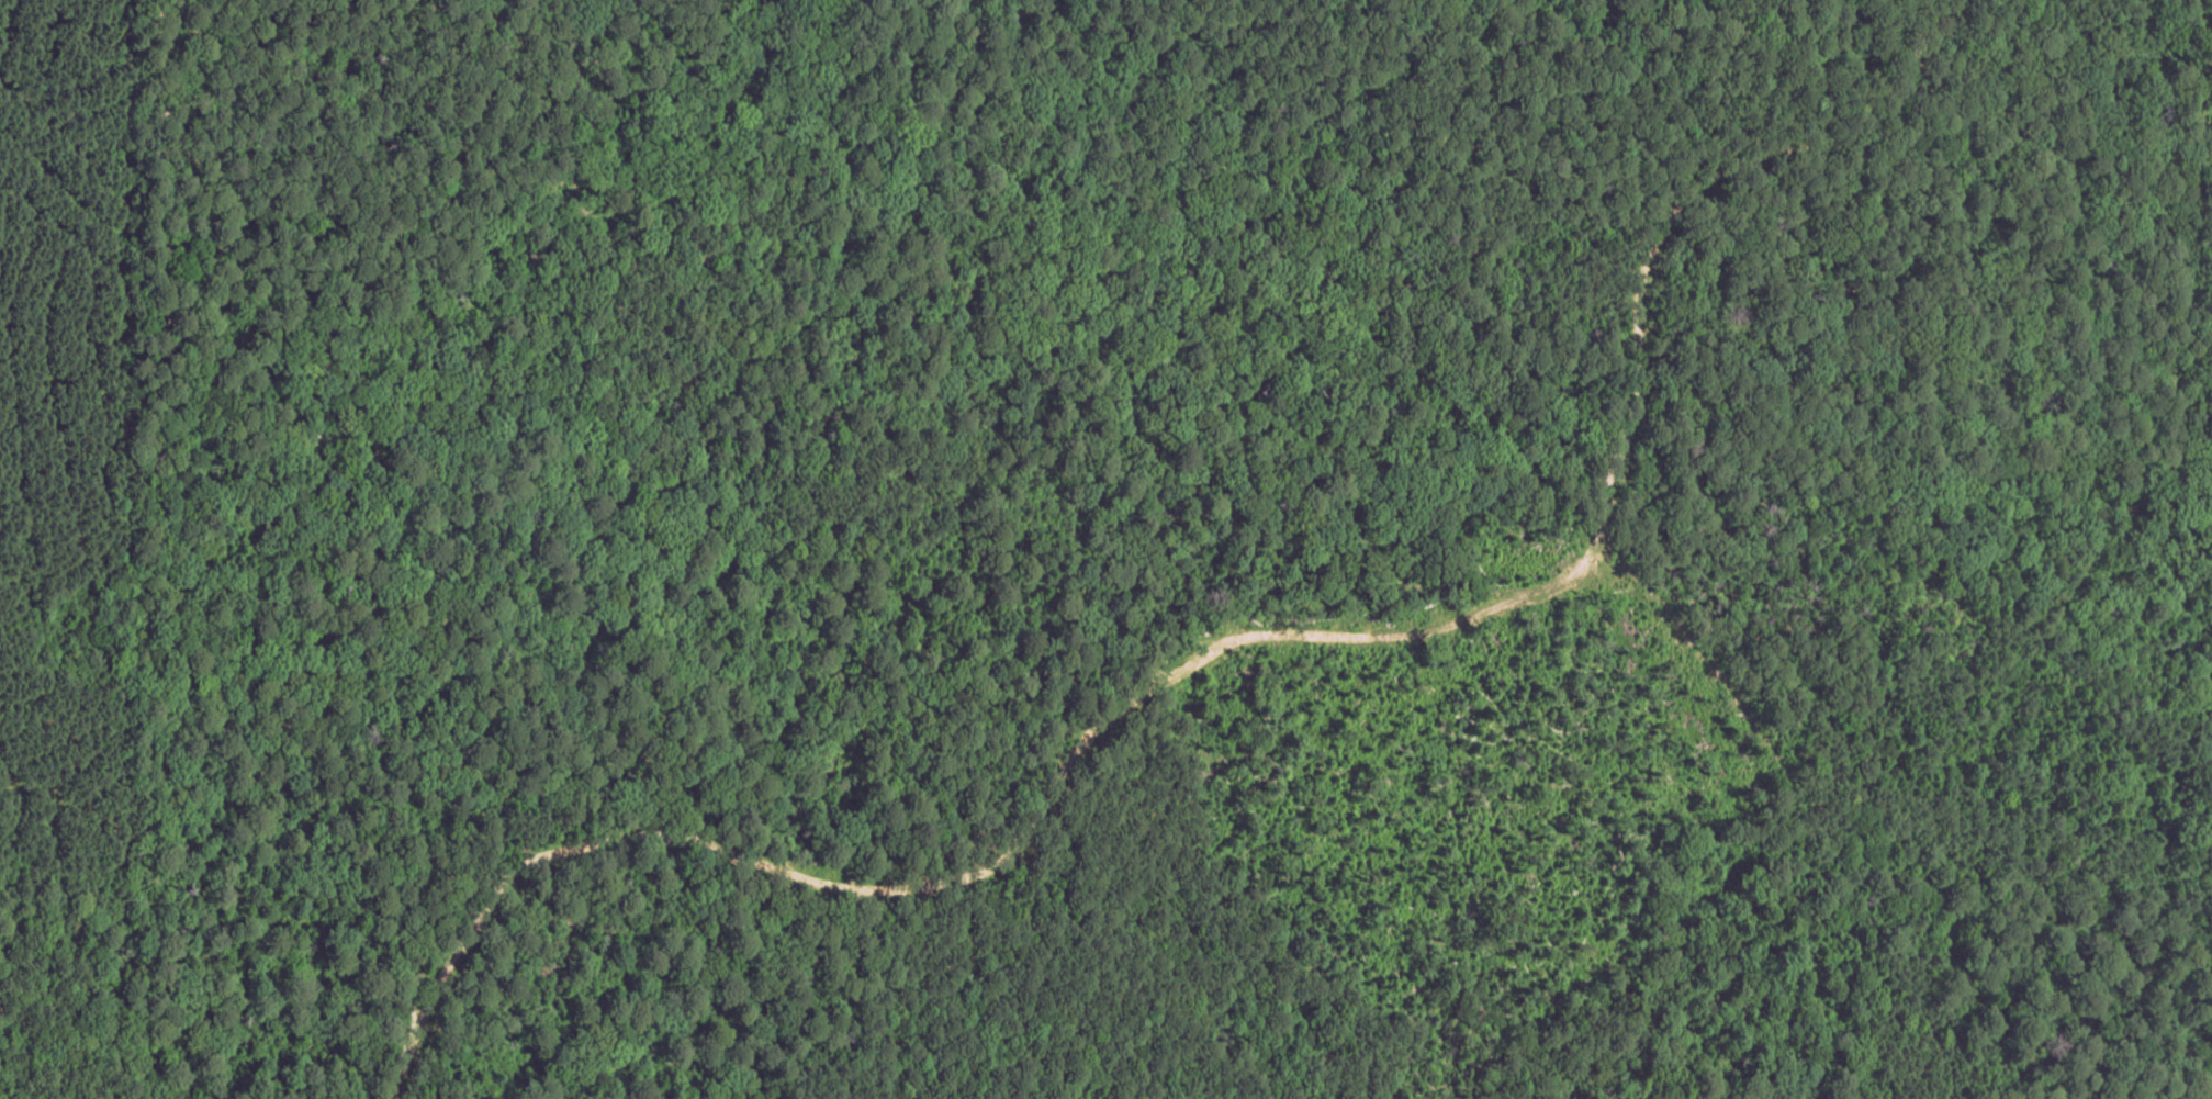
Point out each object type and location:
road: (1965, 957)

